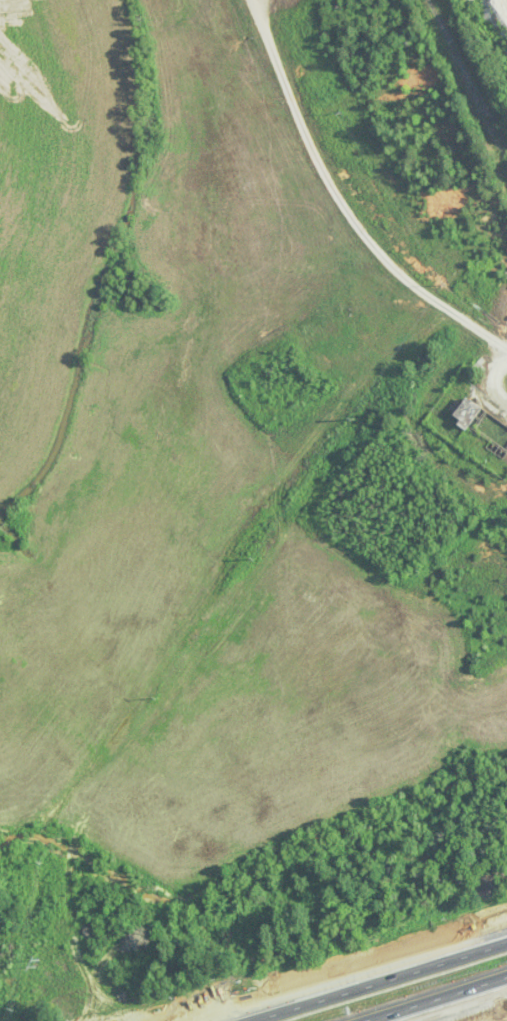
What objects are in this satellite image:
quarry: (494, 24)
railway: (471, 69)
building: (469, 414)
road: (375, 981)
road: (430, 997)

